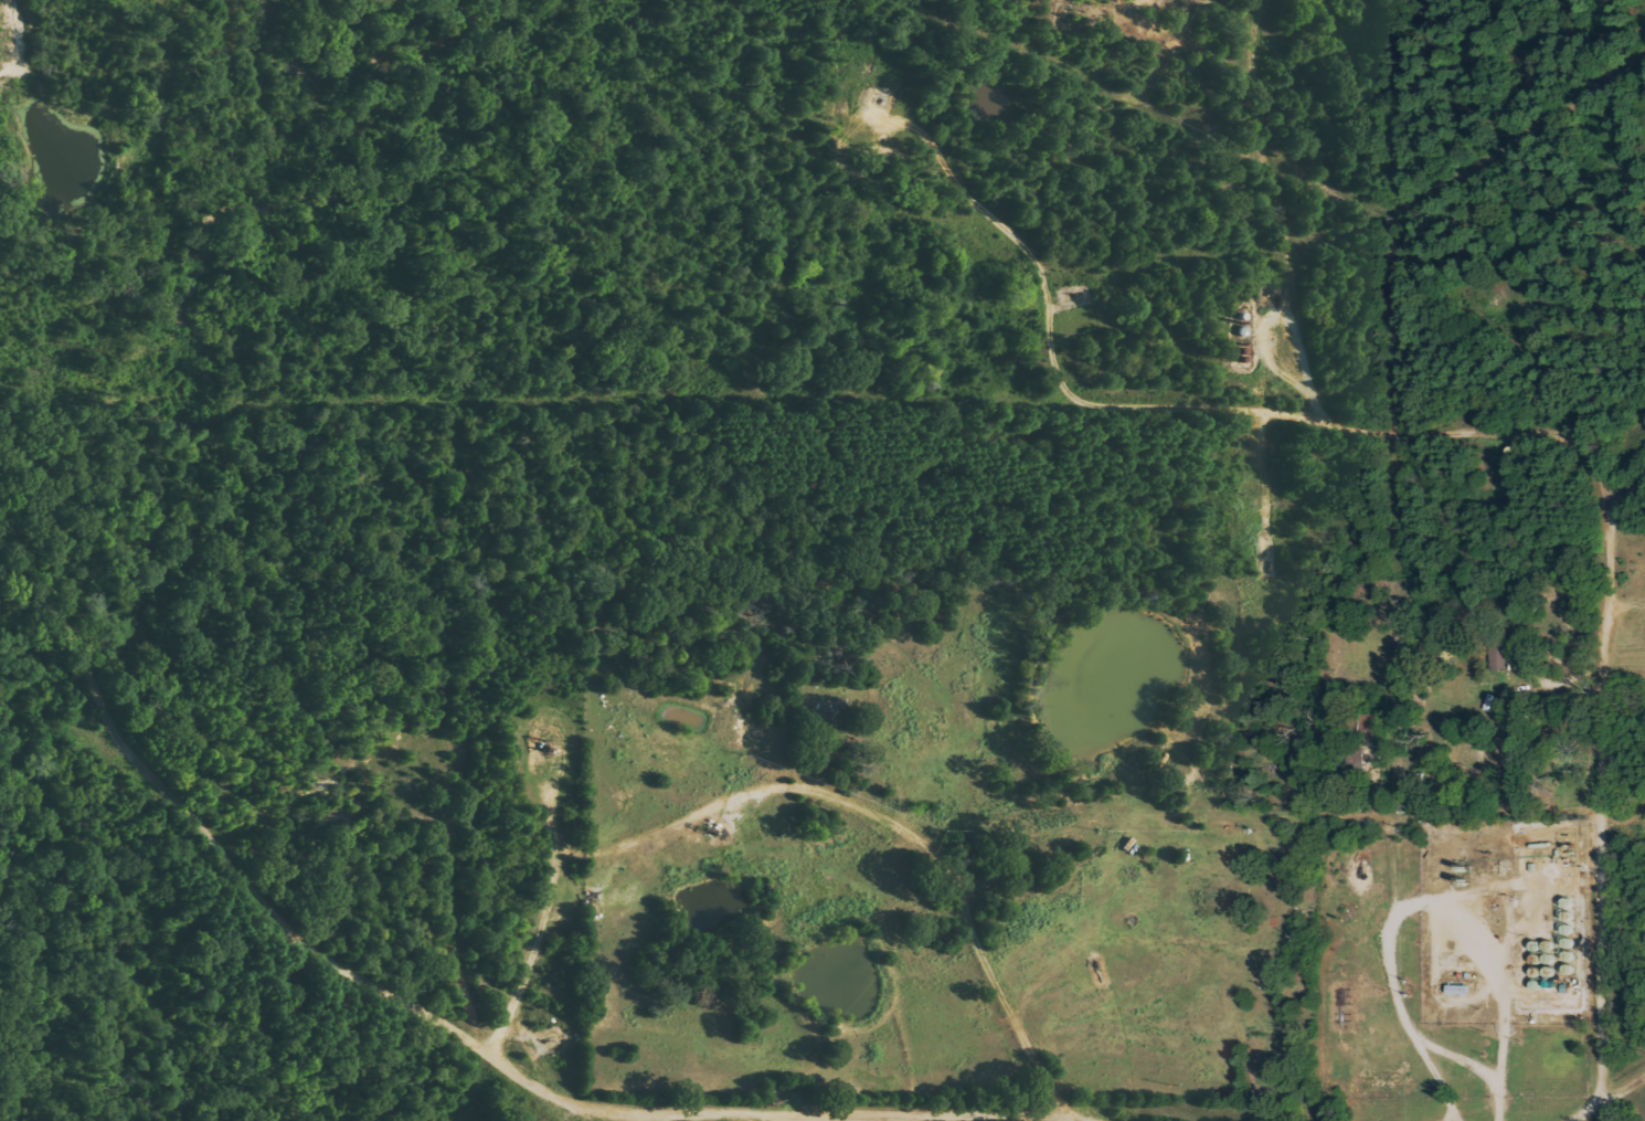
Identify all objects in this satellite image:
road: (1288, 318)
road: (1191, 406)
road: (1627, 490)
building: (1498, 657)
road: (1603, 803)
road: (426, 1007)
road: (1603, 1098)

